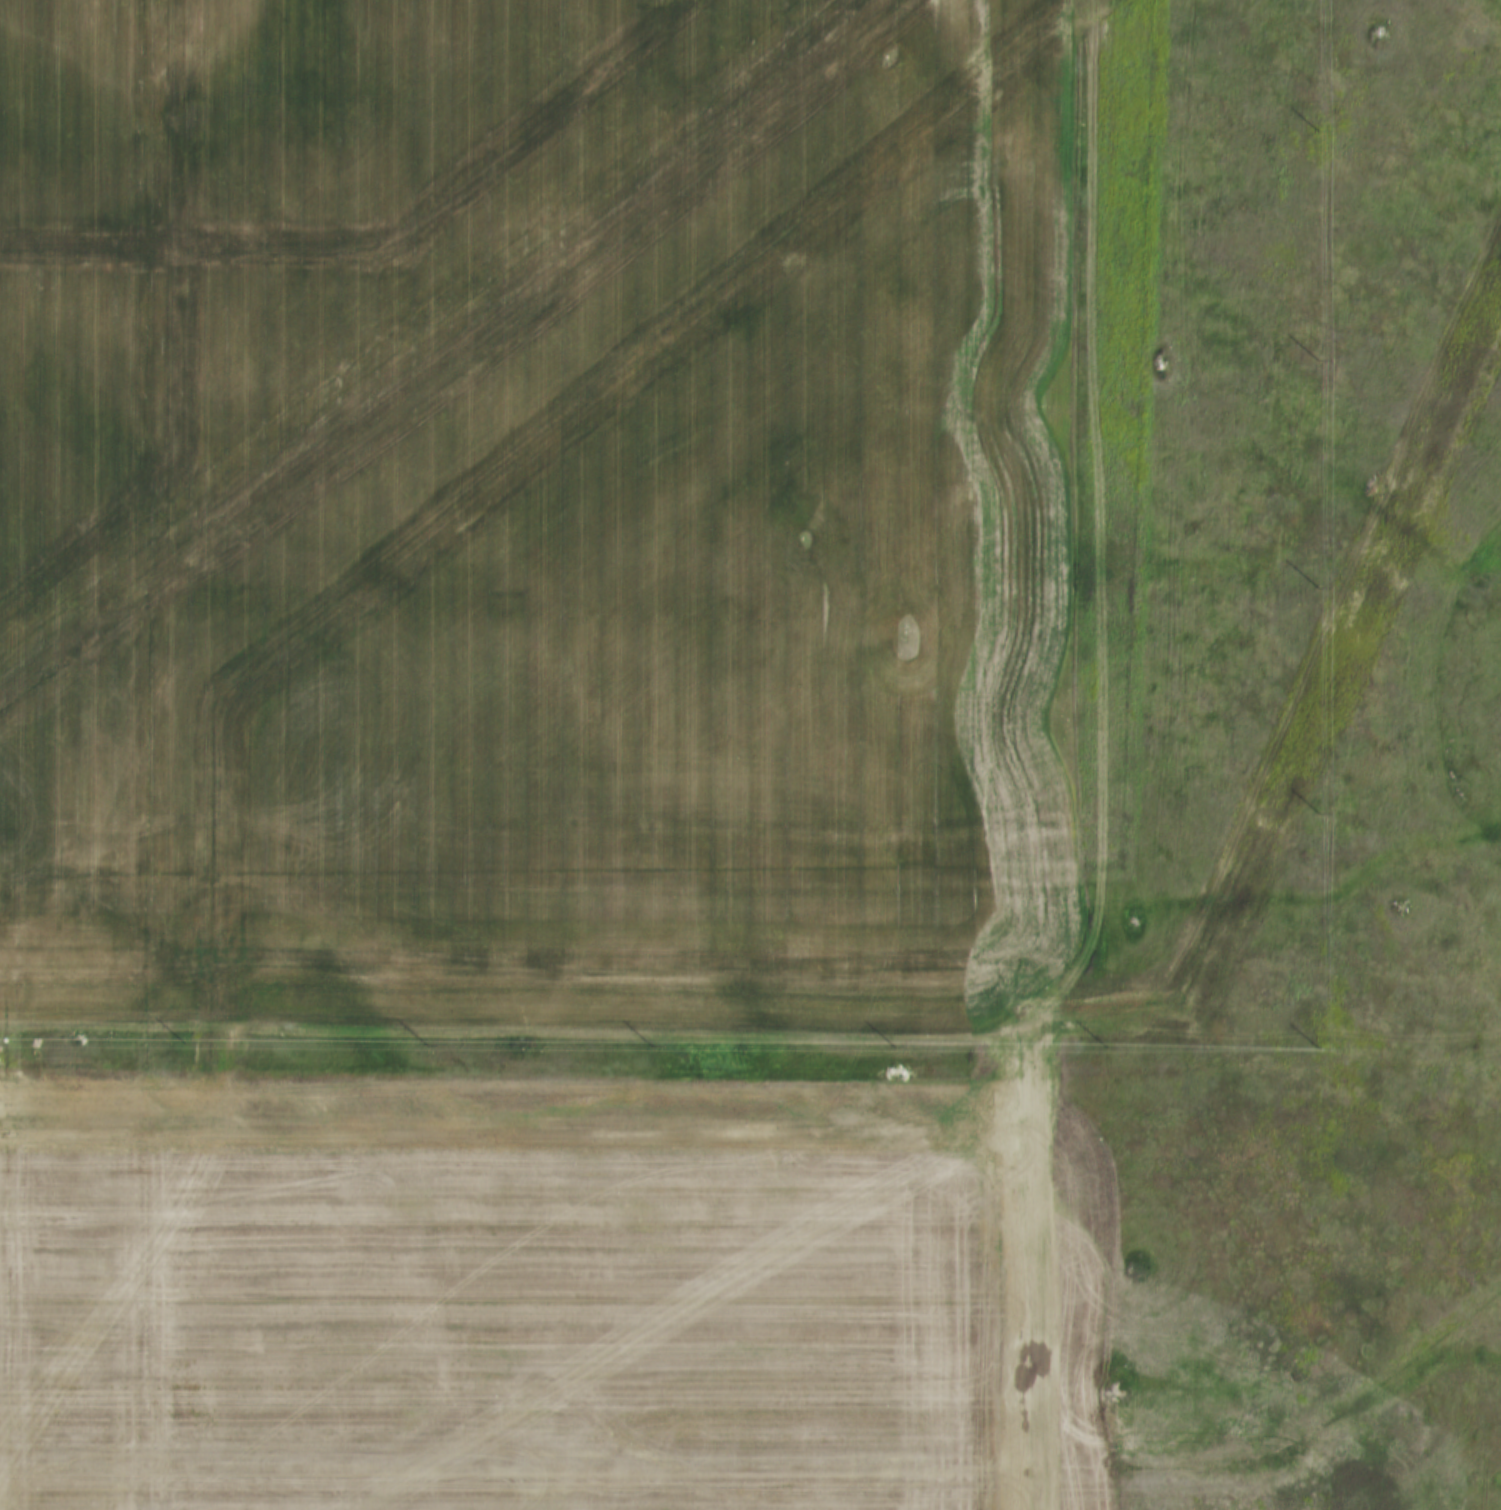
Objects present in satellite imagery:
road: (669, 1031)

